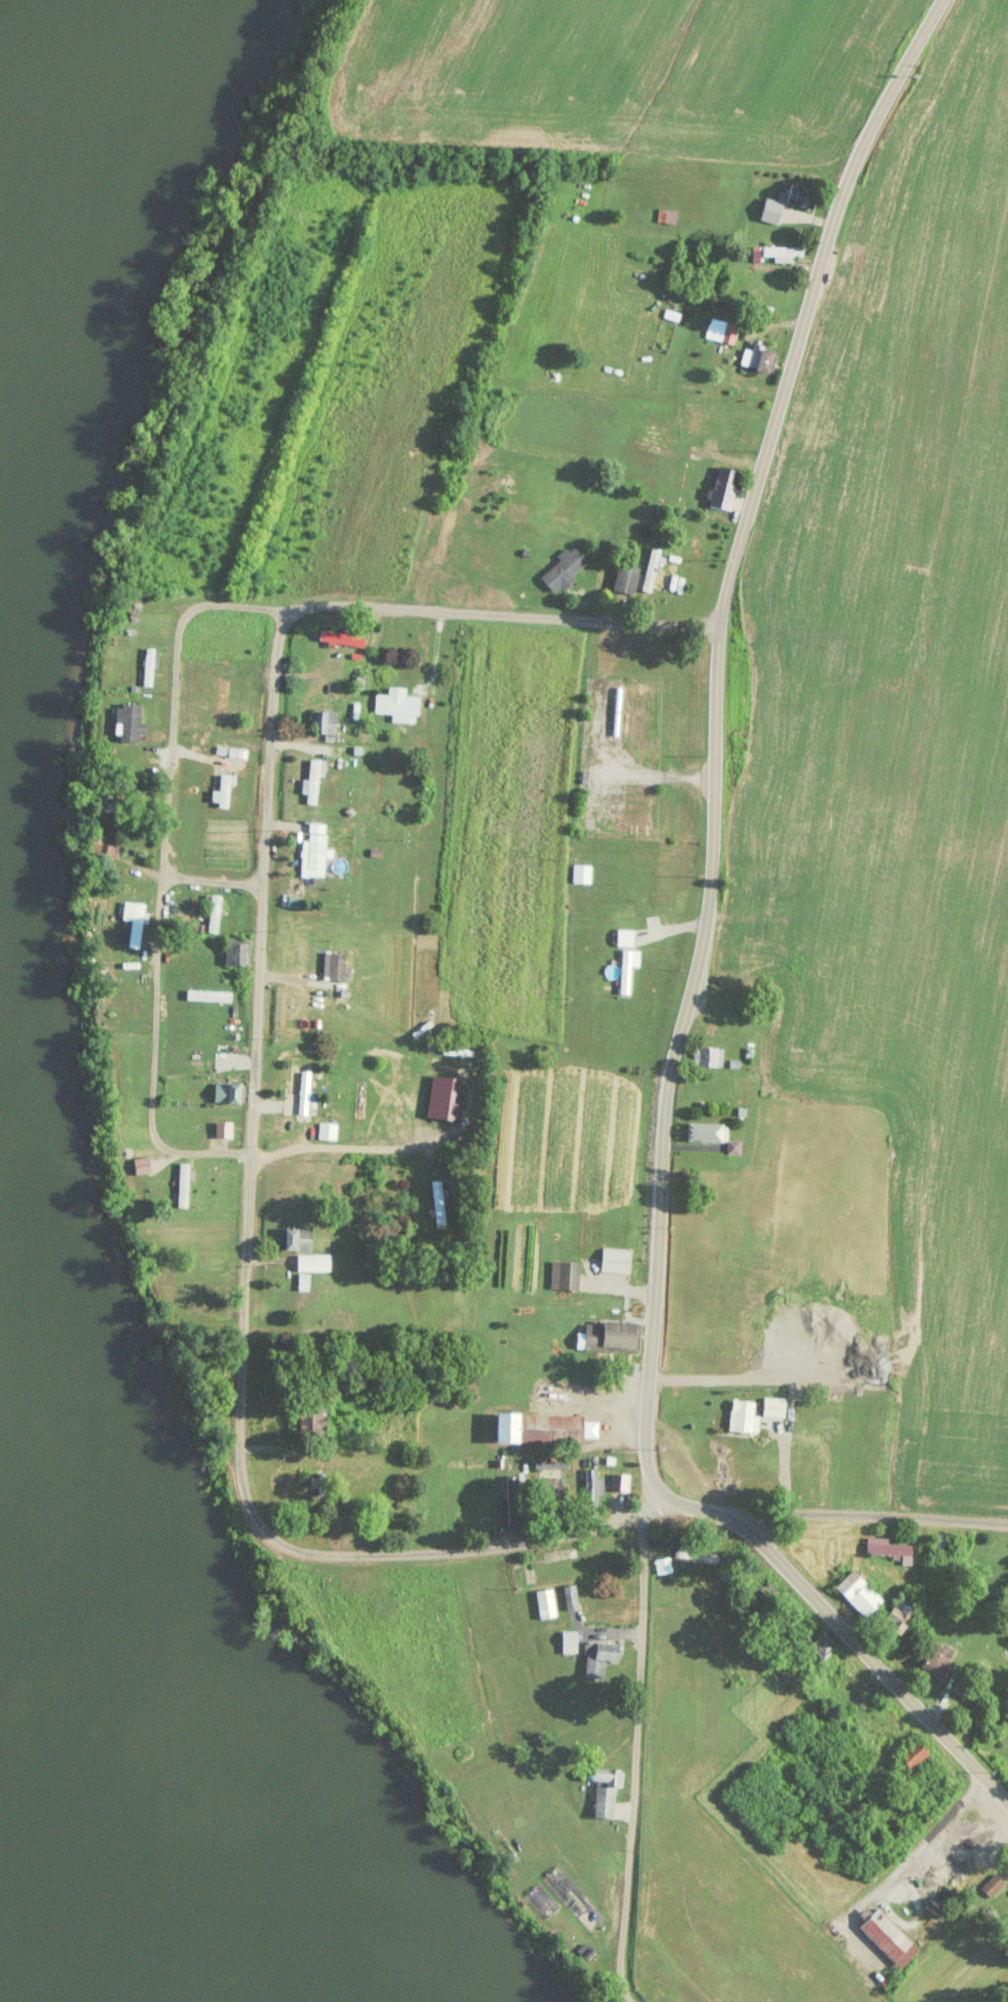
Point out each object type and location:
building: (800, 194)
building: (668, 214)
building: (780, 250)
building: (723, 328)
building: (758, 357)
building: (807, 418)
road: (705, 436)
crop: (669, 469)
building: (683, 483)
building: (659, 566)
building: (561, 569)
building: (623, 578)
road: (484, 620)
building: (340, 637)
building: (146, 665)
building: (222, 698)
building: (396, 705)
building: (322, 721)
building: (127, 722)
road: (708, 743)
building: (311, 778)
building: (223, 787)
building: (312, 849)
road: (165, 866)
building: (580, 873)
road: (206, 889)
building: (212, 912)
building: (132, 920)
building: (623, 937)
building: (235, 950)
building: (335, 965)
building: (624, 970)
building: (444, 1052)
building: (706, 1055)
building: (297, 1079)
building: (742, 1088)
building: (225, 1092)
building: (448, 1103)
building: (302, 1106)
building: (221, 1127)
building: (326, 1130)
building: (704, 1131)
building: (139, 1164)
building: (182, 1184)
building: (437, 1200)
building: (296, 1237)
road: (230, 1256)
building: (614, 1259)
building: (311, 1261)
building: (563, 1273)
building: (301, 1283)
building: (301, 1287)
building: (765, 1311)
building: (609, 1333)
building: (772, 1405)
building: (740, 1414)
building: (309, 1417)
building: (542, 1425)
building: (802, 1452)
building: (755, 1467)
building: (549, 1474)
building: (306, 1479)
building: (589, 1485)
building: (511, 1498)
road: (721, 1536)
road: (908, 1540)
building: (942, 1543)
building: (886, 1546)
building: (694, 1555)
building: (857, 1590)
building: (569, 1595)
building: (544, 1601)
building: (899, 1612)
building: (567, 1640)
building: (820, 1643)
building: (597, 1655)
building: (933, 1662)
road: (894, 1678)
building: (911, 1753)
road: (631, 1768)
building: (602, 1790)
building: (868, 1792)
building: (866, 1832)
building: (990, 1883)
building: (540, 1899)
building: (574, 1899)
building: (888, 1937)
river: (32, 1966)

